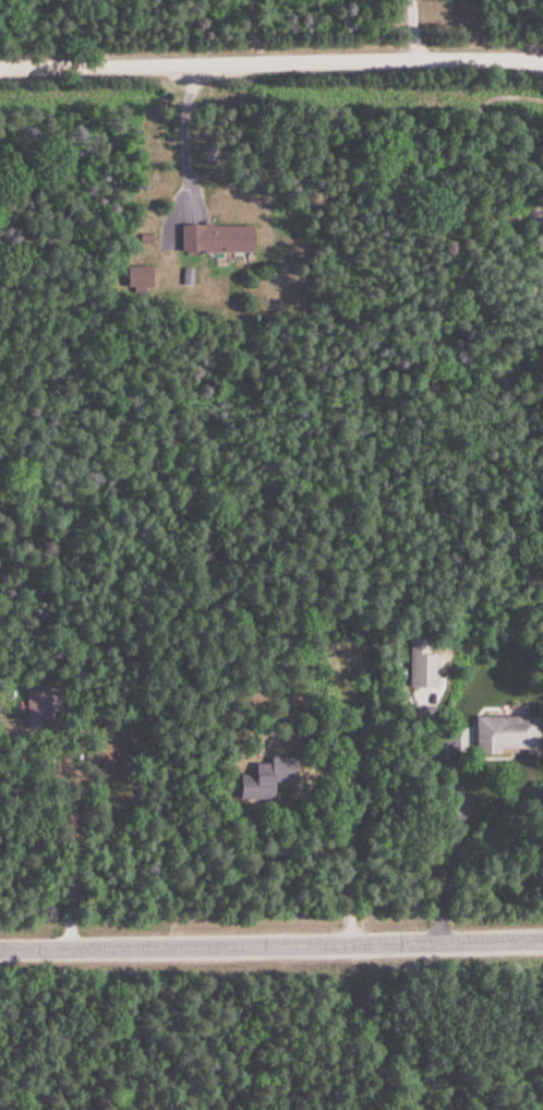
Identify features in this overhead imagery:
road: (425, 28)
road: (270, 59)
building: (217, 237)
building: (141, 274)
building: (423, 664)
building: (43, 702)
building: (507, 732)
building: (106, 762)
building: (267, 775)
road: (271, 942)
airport: (22, 1103)

